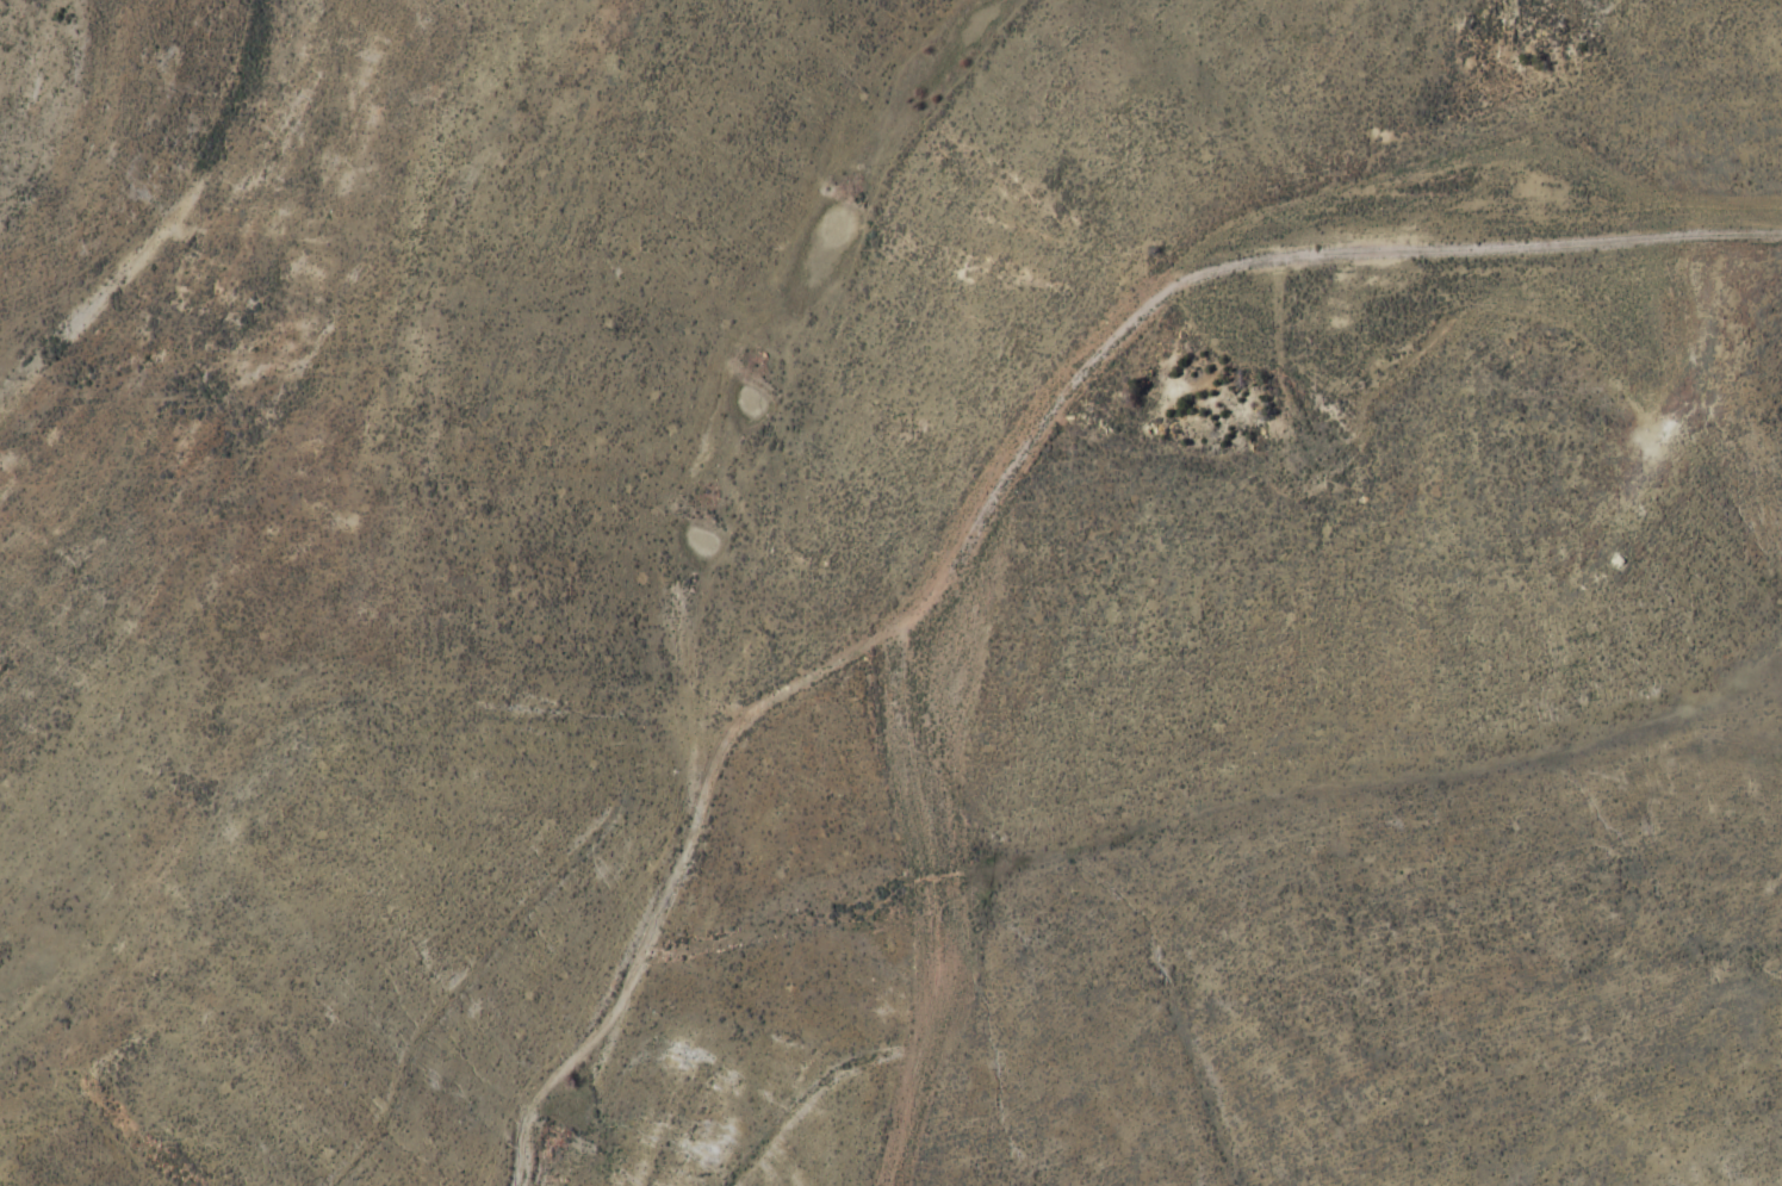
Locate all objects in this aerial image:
road: (1043, 414)

